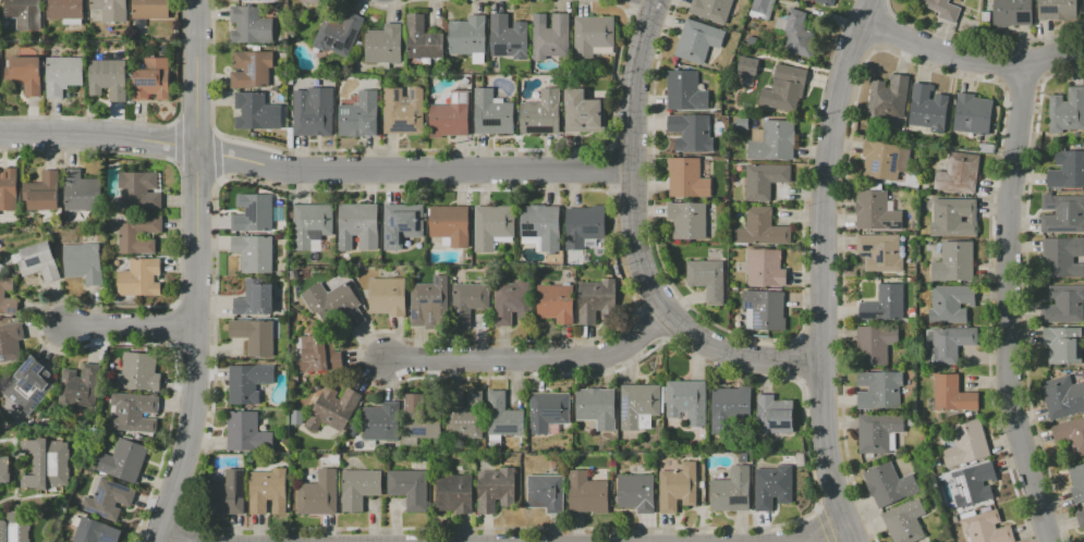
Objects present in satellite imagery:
building: (319, 1)
building: (825, 2)
building: (1083, 7)
building: (762, 8)
building: (63, 9)
building: (150, 9)
building: (940, 9)
building: (1055, 9)
building: (110, 10)
building: (710, 10)
building: (23, 12)
building: (1011, 12)
building: (71, 22)
building: (251, 23)
building: (338, 34)
building: (592, 34)
building: (795, 34)
building: (550, 35)
building: (467, 36)
building: (508, 37)
building: (422, 39)
building: (751, 40)
building: (383, 44)
building: (699, 44)
road: (969, 60)
building: (746, 64)
building: (252, 69)
building: (27, 74)
building: (63, 75)
building: (109, 78)
building: (151, 81)
building: (464, 81)
road: (638, 85)
building: (784, 88)
building: (684, 90)
building: (888, 96)
building: (927, 108)
building: (255, 110)
building: (313, 111)
building: (402, 111)
building: (581, 111)
building: (1067, 111)
building: (492, 113)
building: (541, 113)
building: (972, 114)
building: (360, 115)
building: (450, 116)
building: (741, 124)
building: (691, 132)
building: (774, 141)
building: (880, 159)
building: (1067, 170)
building: (958, 173)
road: (313, 174)
building: (686, 178)
building: (765, 180)
building: (8, 188)
building: (138, 189)
building: (77, 190)
building: (42, 192)
building: (876, 210)
building: (253, 212)
building: (1062, 212)
building: (953, 217)
building: (686, 220)
building: (450, 223)
building: (310, 225)
building: (402, 225)
building: (492, 225)
building: (357, 226)
building: (584, 226)
building: (541, 227)
building: (762, 227)
building: (127, 236)
building: (880, 251)
building: (254, 252)
building: (1061, 257)
building: (38, 261)
building: (83, 262)
building: (953, 262)
building: (765, 268)
road: (823, 270)
road: (195, 273)
building: (139, 278)
building: (707, 279)
building: (2, 295)
building: (387, 296)
building: (254, 299)
building: (594, 299)
building: (467, 300)
building: (334, 301)
building: (429, 303)
building: (514, 303)
building: (556, 303)
building: (884, 304)
building: (950, 304)
building: (1063, 305)
road: (1007, 306)
building: (765, 308)
road: (672, 322)
road: (133, 331)
building: (254, 336)
building: (10, 342)
building: (951, 344)
building: (1063, 344)
building: (875, 345)
building: (313, 354)
road: (532, 359)
building: (138, 371)
building: (247, 382)
building: (29, 383)
building: (78, 385)
building: (879, 390)
building: (951, 394)
building: (1062, 397)
building: (685, 401)
building: (334, 406)
building: (638, 406)
building: (596, 407)
building: (731, 409)
building: (547, 410)
building: (134, 411)
building: (464, 411)
building: (503, 416)
building: (774, 416)
building: (296, 417)
building: (380, 421)
building: (419, 421)
building: (245, 431)
building: (877, 431)
building: (1071, 434)
building: (966, 443)
building: (124, 460)
building: (936, 461)
building: (47, 463)
building: (4, 469)
building: (973, 483)
building: (1077, 483)
building: (888, 484)
building: (772, 486)
building: (358, 488)
building: (409, 488)
building: (678, 488)
building: (496, 489)
building: (268, 491)
building: (731, 491)
building: (546, 492)
building: (586, 492)
building: (636, 492)
building: (228, 493)
building: (318, 494)
building: (453, 494)
building: (108, 500)
building: (948, 512)
building: (1081, 518)
building: (904, 521)
building: (14, 527)
building: (986, 528)
building: (95, 531)
road: (821, 531)
road: (176, 539)

